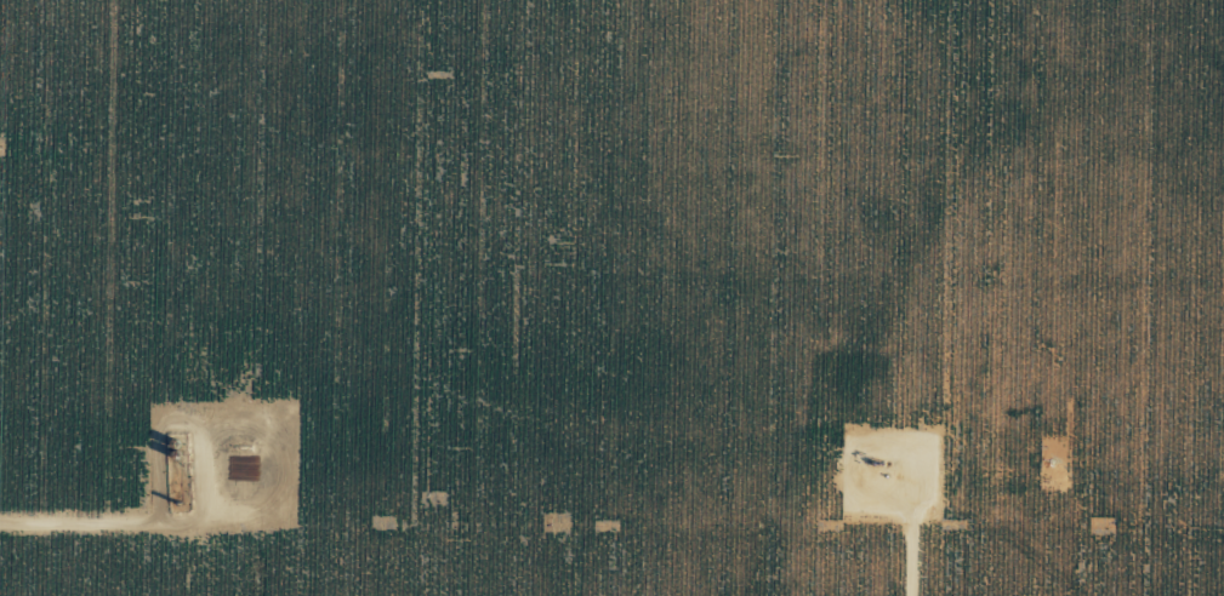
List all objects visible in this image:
petroleum well: (875, 472)

